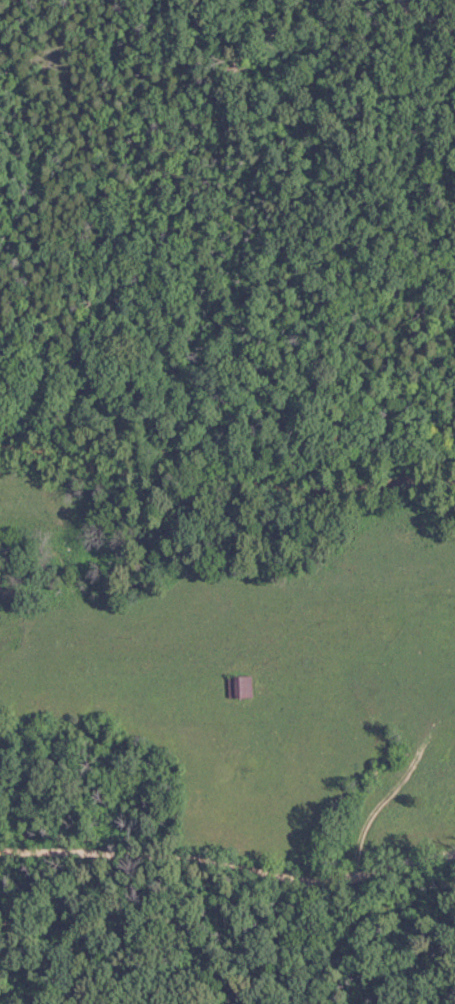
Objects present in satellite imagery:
road: (229, 879)

